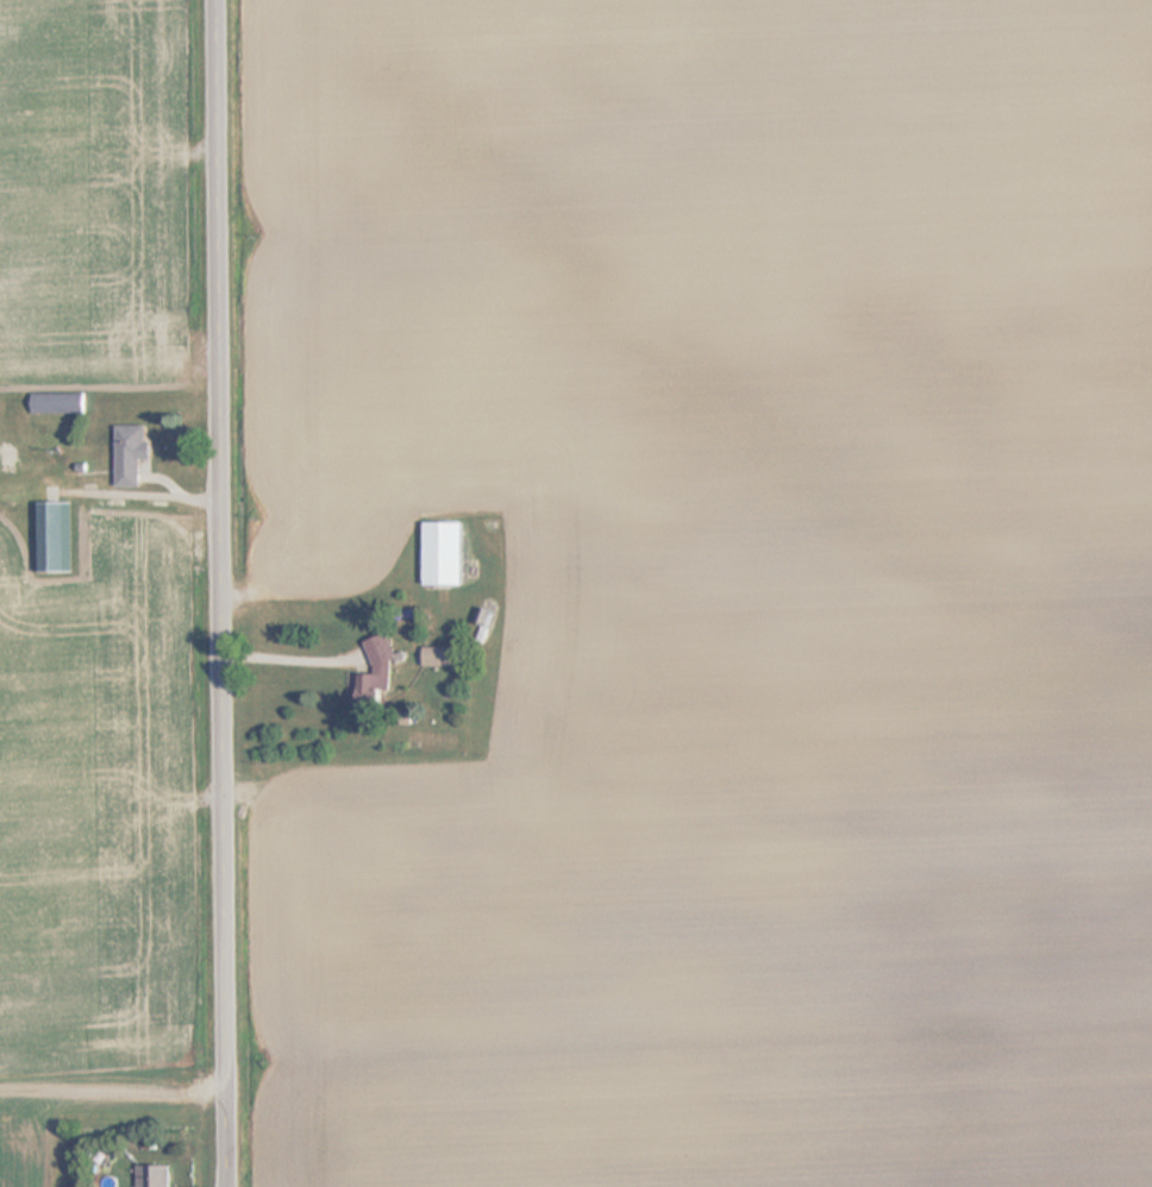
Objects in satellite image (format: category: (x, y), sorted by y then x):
building: (61, 402)
building: (136, 452)
building: (50, 536)
building: (447, 553)
road: (225, 593)
building: (443, 655)
road: (296, 659)
building: (380, 672)
building: (158, 1175)

